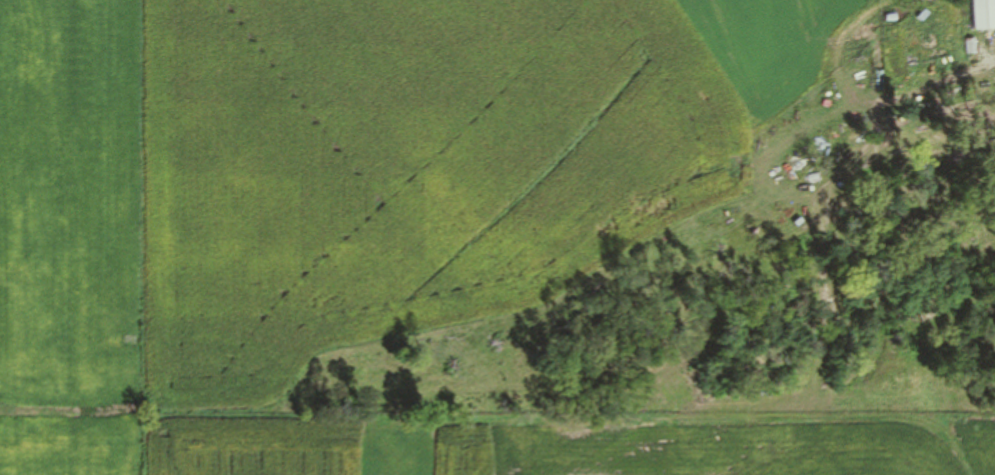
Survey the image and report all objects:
building: (984, 14)

